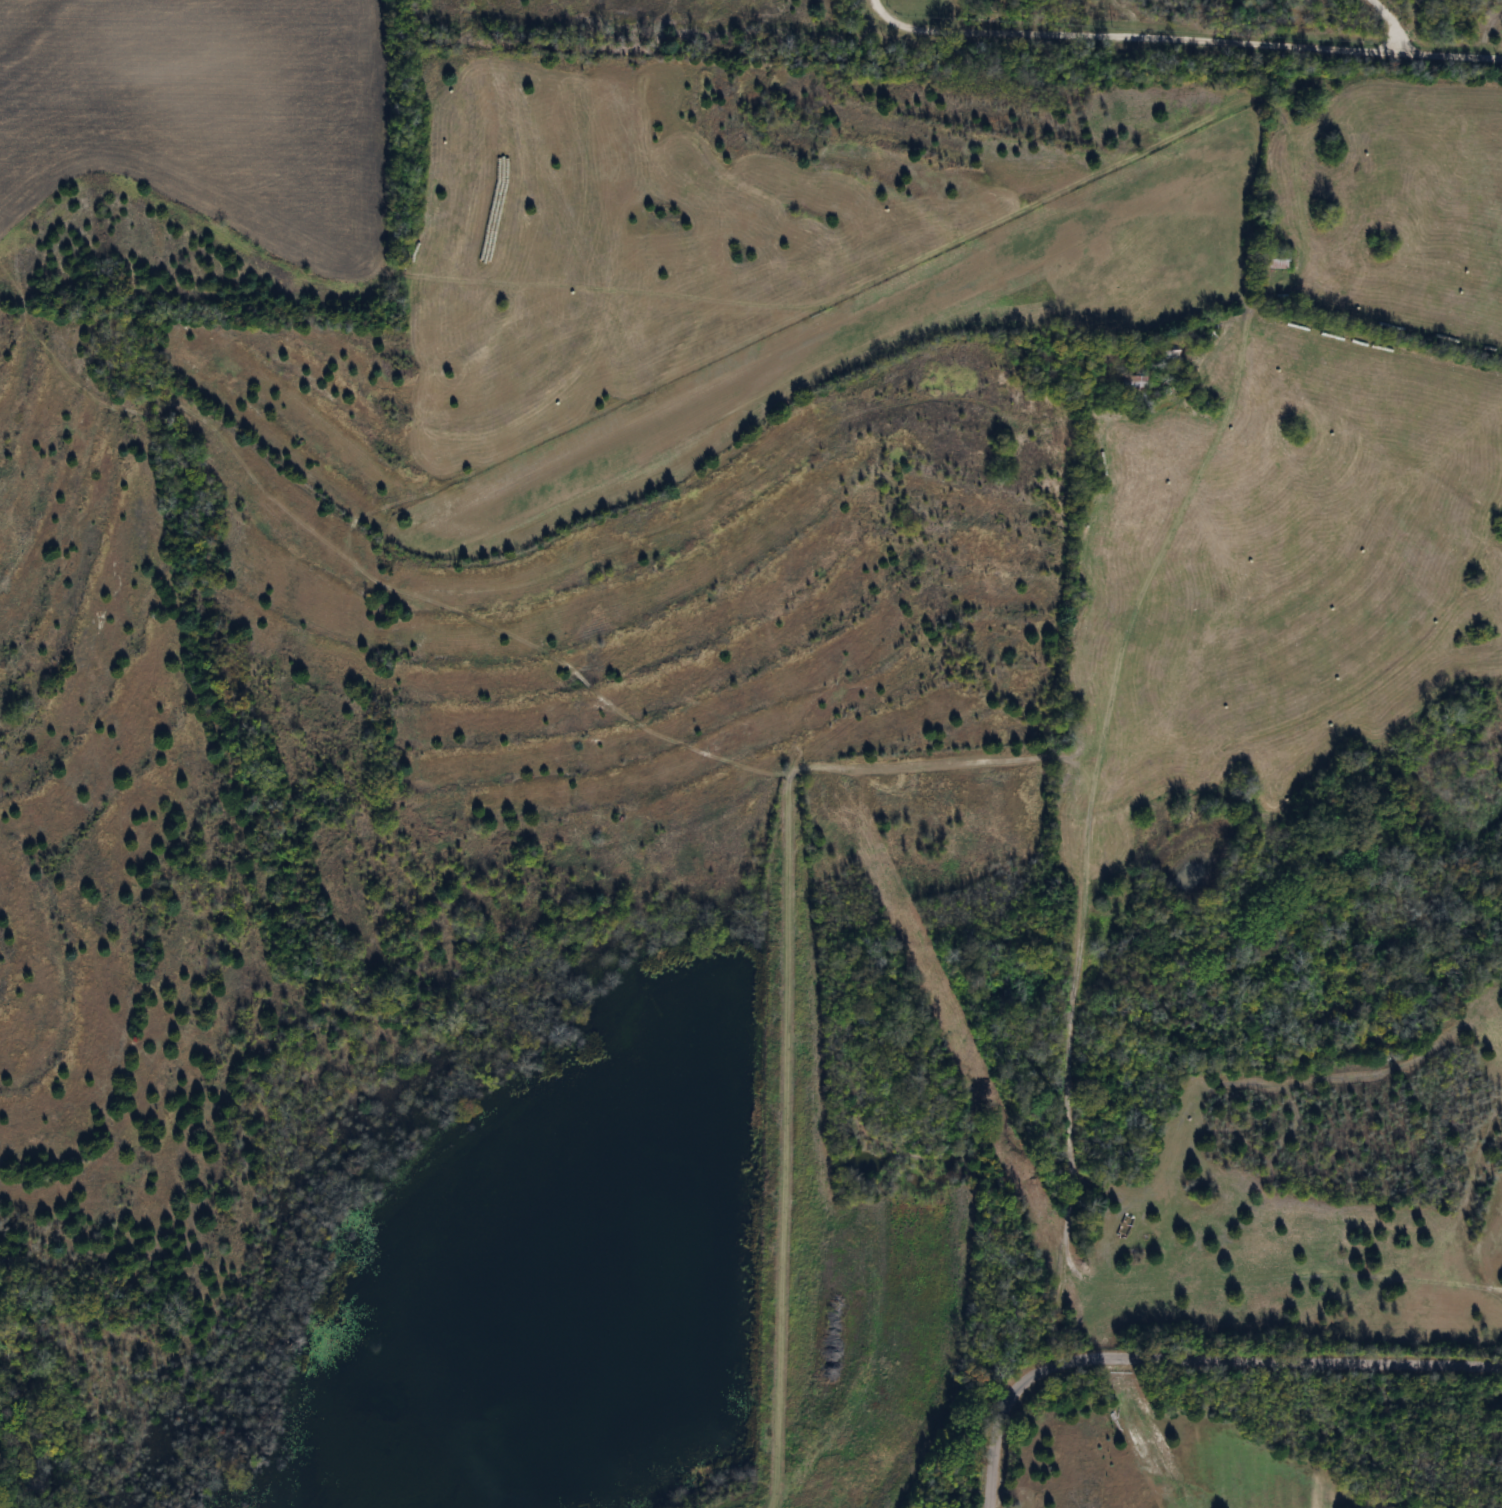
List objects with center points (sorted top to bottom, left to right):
road: (1394, 20)
road: (1180, 37)
building: (1273, 260)
building: (1170, 350)
building: (1132, 379)
road: (1192, 1358)

